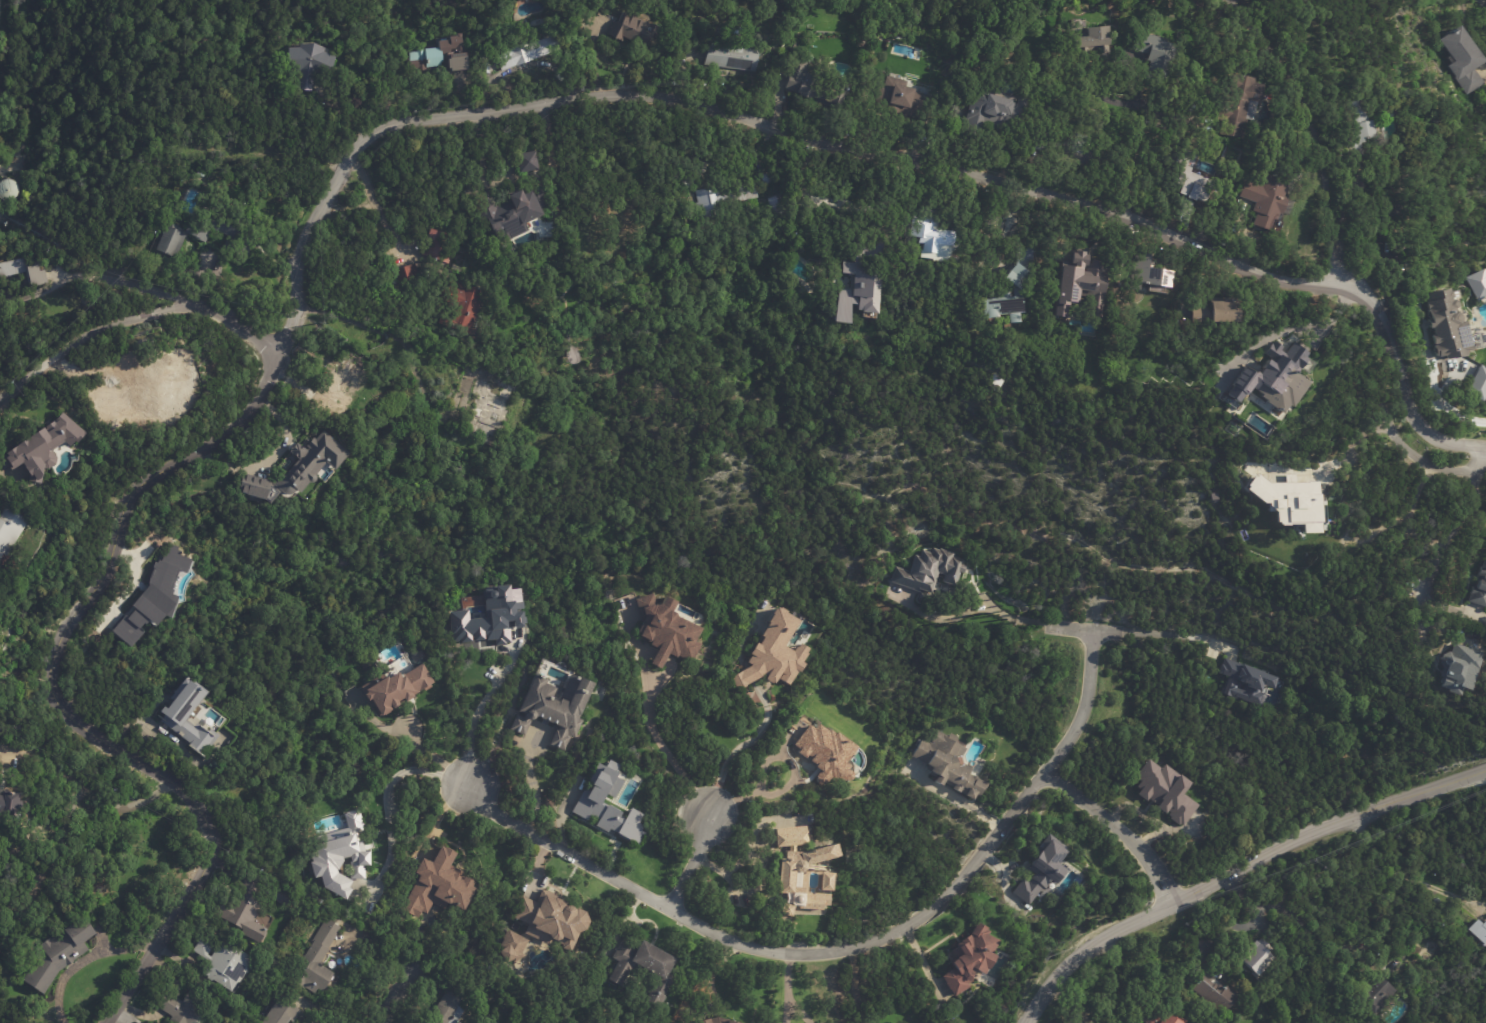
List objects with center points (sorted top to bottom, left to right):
building: (736, 30)
building: (637, 31)
building: (1089, 44)
building: (795, 46)
building: (529, 52)
building: (1153, 55)
building: (442, 56)
building: (733, 56)
building: (1461, 59)
building: (312, 65)
building: (816, 84)
building: (906, 100)
building: (1235, 105)
road: (538, 107)
building: (999, 109)
building: (1356, 126)
road: (1316, 128)
road: (1129, 152)
building: (1083, 155)
building: (531, 163)
building: (771, 179)
building: (1188, 182)
building: (1263, 199)
building: (723, 201)
road: (374, 202)
building: (822, 202)
building: (780, 208)
building: (514, 212)
building: (1391, 224)
building: (228, 232)
building: (936, 237)
building: (172, 241)
building: (439, 247)
building: (407, 272)
building: (23, 273)
building: (1152, 273)
building: (867, 276)
road: (130, 282)
building: (1475, 282)
building: (1082, 286)
building: (1013, 295)
building: (461, 306)
building: (1210, 314)
road: (140, 318)
building: (1447, 326)
road: (1288, 328)
road: (386, 330)
building: (1273, 377)
building: (165, 383)
building: (1477, 383)
building: (341, 386)
road: (1448, 407)
building: (487, 408)
building: (113, 425)
road: (1400, 442)
building: (38, 448)
road: (1474, 456)
building: (298, 470)
building: (1290, 501)
building: (10, 529)
road: (1444, 542)
building: (926, 570)
building: (1479, 587)
building: (153, 596)
building: (492, 617)
road: (1043, 623)
building: (665, 631)
road: (1167, 634)
road: (739, 647)
building: (774, 652)
building: (1454, 669)
road: (750, 676)
building: (1246, 682)
building: (392, 689)
building: (557, 706)
building: (178, 717)
road: (472, 721)
road: (664, 751)
building: (827, 756)
building: (944, 762)
road: (83, 787)
road: (715, 788)
road: (384, 792)
building: (1166, 792)
building: (589, 800)
building: (9, 804)
road: (1123, 832)
building: (790, 837)
building: (335, 855)
building: (1036, 867)
road: (1237, 868)
road: (1411, 874)
building: (800, 880)
building: (824, 882)
building: (441, 886)
road: (751, 889)
building: (283, 896)
building: (1439, 903)
building: (246, 910)
building: (546, 918)
road: (167, 928)
building: (1477, 931)
building: (509, 946)
road: (856, 951)
building: (59, 954)
building: (1254, 954)
building: (963, 957)
building: (320, 958)
building: (225, 963)
building: (640, 965)
building: (1219, 968)
road: (787, 979)
road: (853, 988)
road: (408, 989)
building: (1371, 995)
building: (1212, 996)
building: (449, 1007)
building: (183, 1008)
road: (800, 1011)
building: (283, 1013)
road: (787, 1014)
building: (1148, 1014)
building: (713, 1020)

